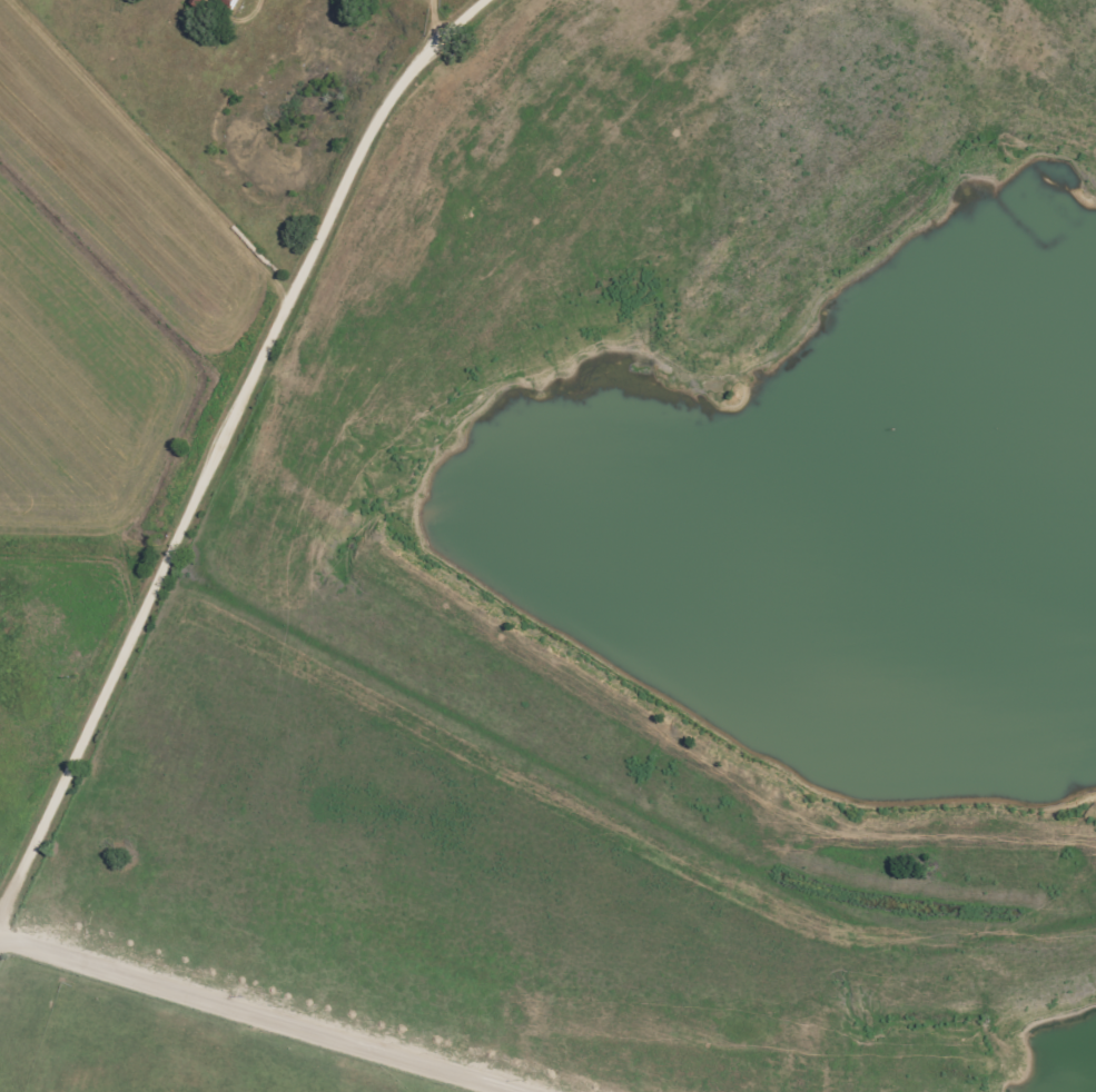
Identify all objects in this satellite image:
building: (228, 1)
building: (199, 2)
road: (218, 451)
road: (265, 1010)

